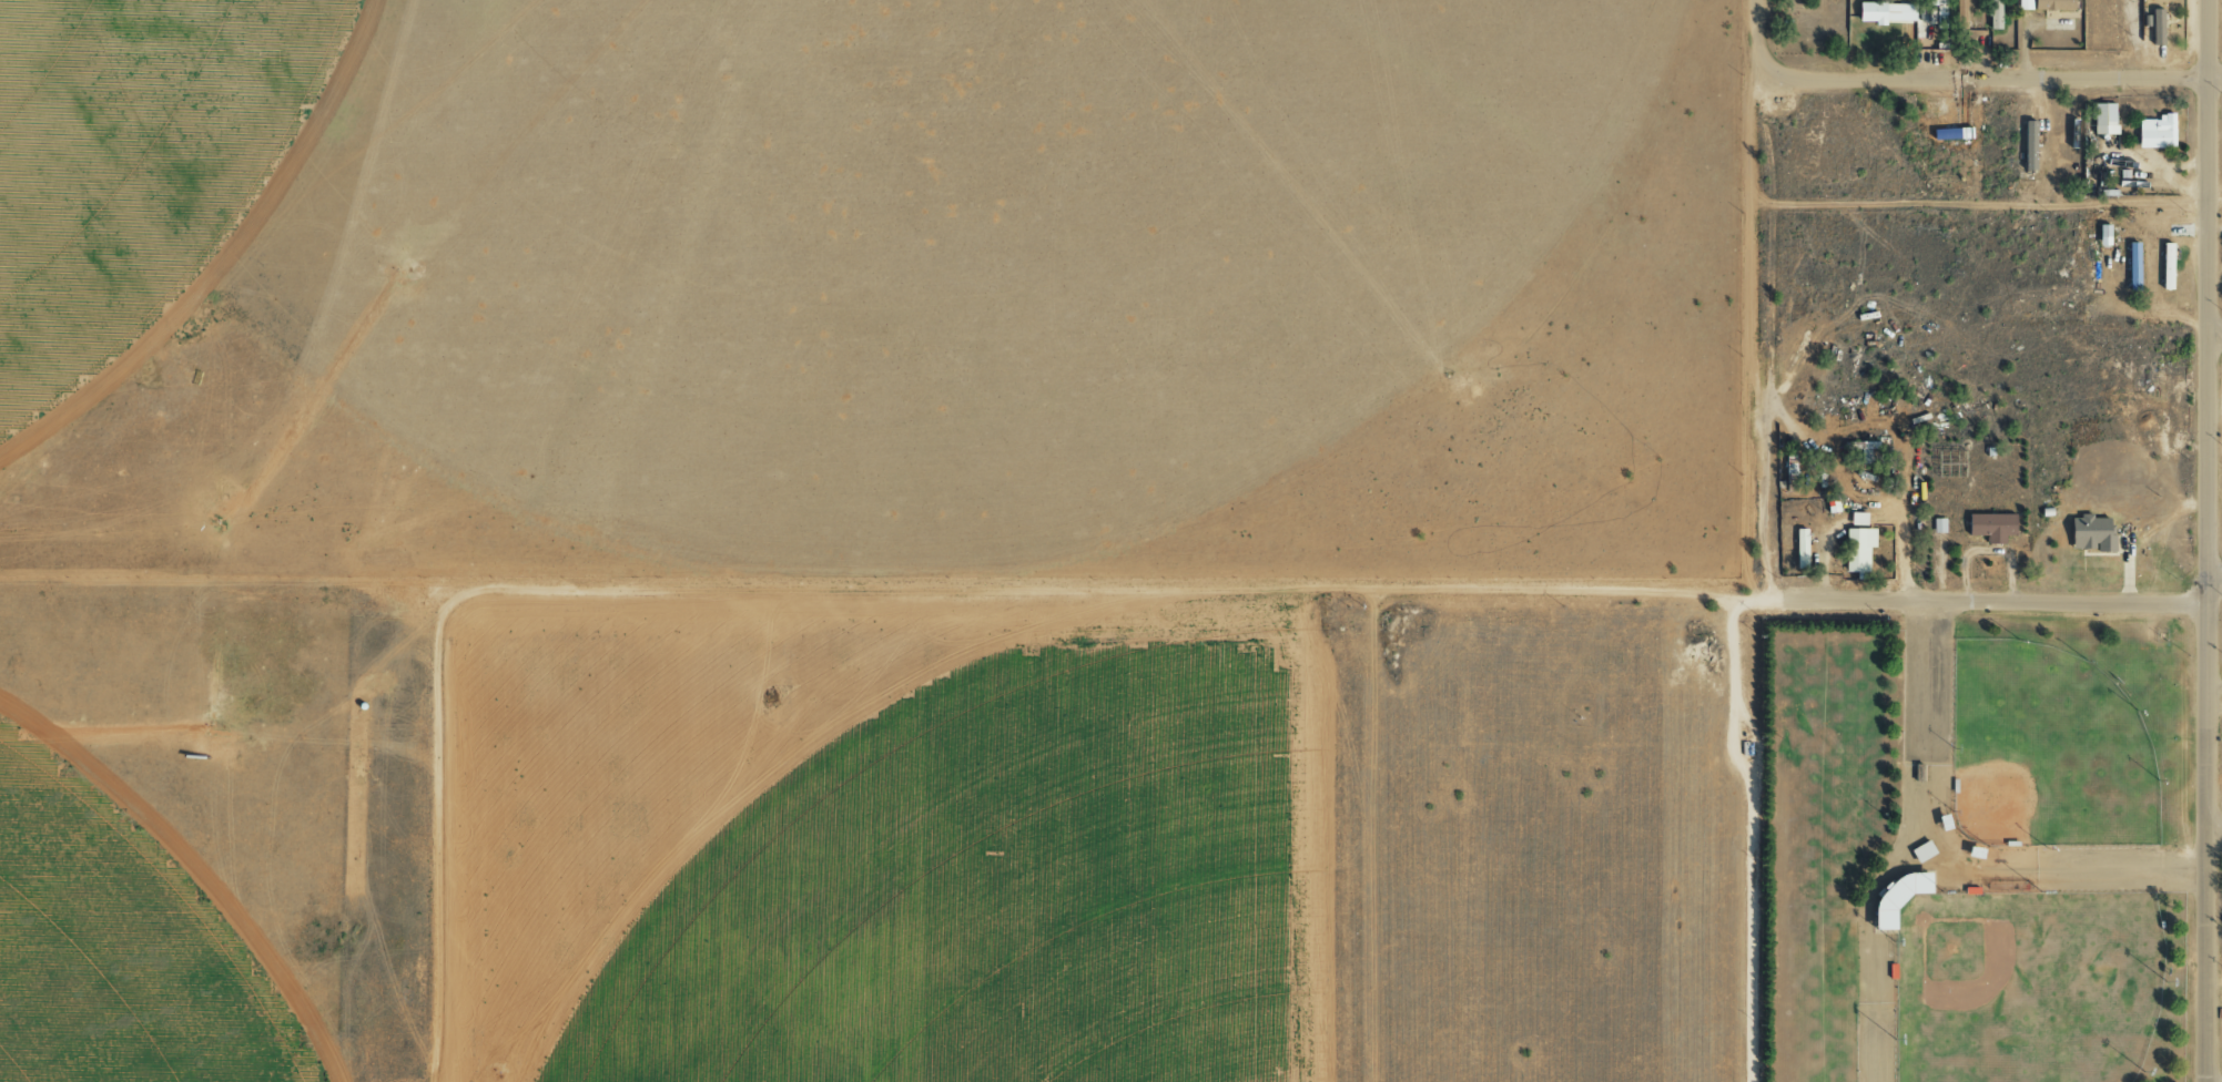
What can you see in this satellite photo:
building: (2043, 4)
building: (1884, 12)
building: (1938, 13)
building: (1959, 14)
building: (1993, 14)
building: (2155, 27)
road: (1998, 74)
building: (2102, 119)
building: (2154, 132)
building: (2027, 145)
building: (2101, 235)
building: (2164, 266)
building: (2131, 267)
road: (1773, 294)
road: (2213, 334)
building: (1861, 449)
building: (1856, 518)
building: (1937, 524)
building: (1989, 525)
building: (2089, 532)
road: (2205, 540)
building: (1799, 548)
building: (1856, 550)
road: (2214, 579)
road: (638, 585)
road: (1757, 594)
road: (2159, 631)
road: (1915, 735)
park: (2043, 747)
road: (1779, 798)
road: (2213, 830)
road: (1960, 837)
road: (1877, 840)
park: (1974, 845)
road: (1945, 872)
road: (1944, 891)
road: (2171, 983)
park: (2026, 984)

